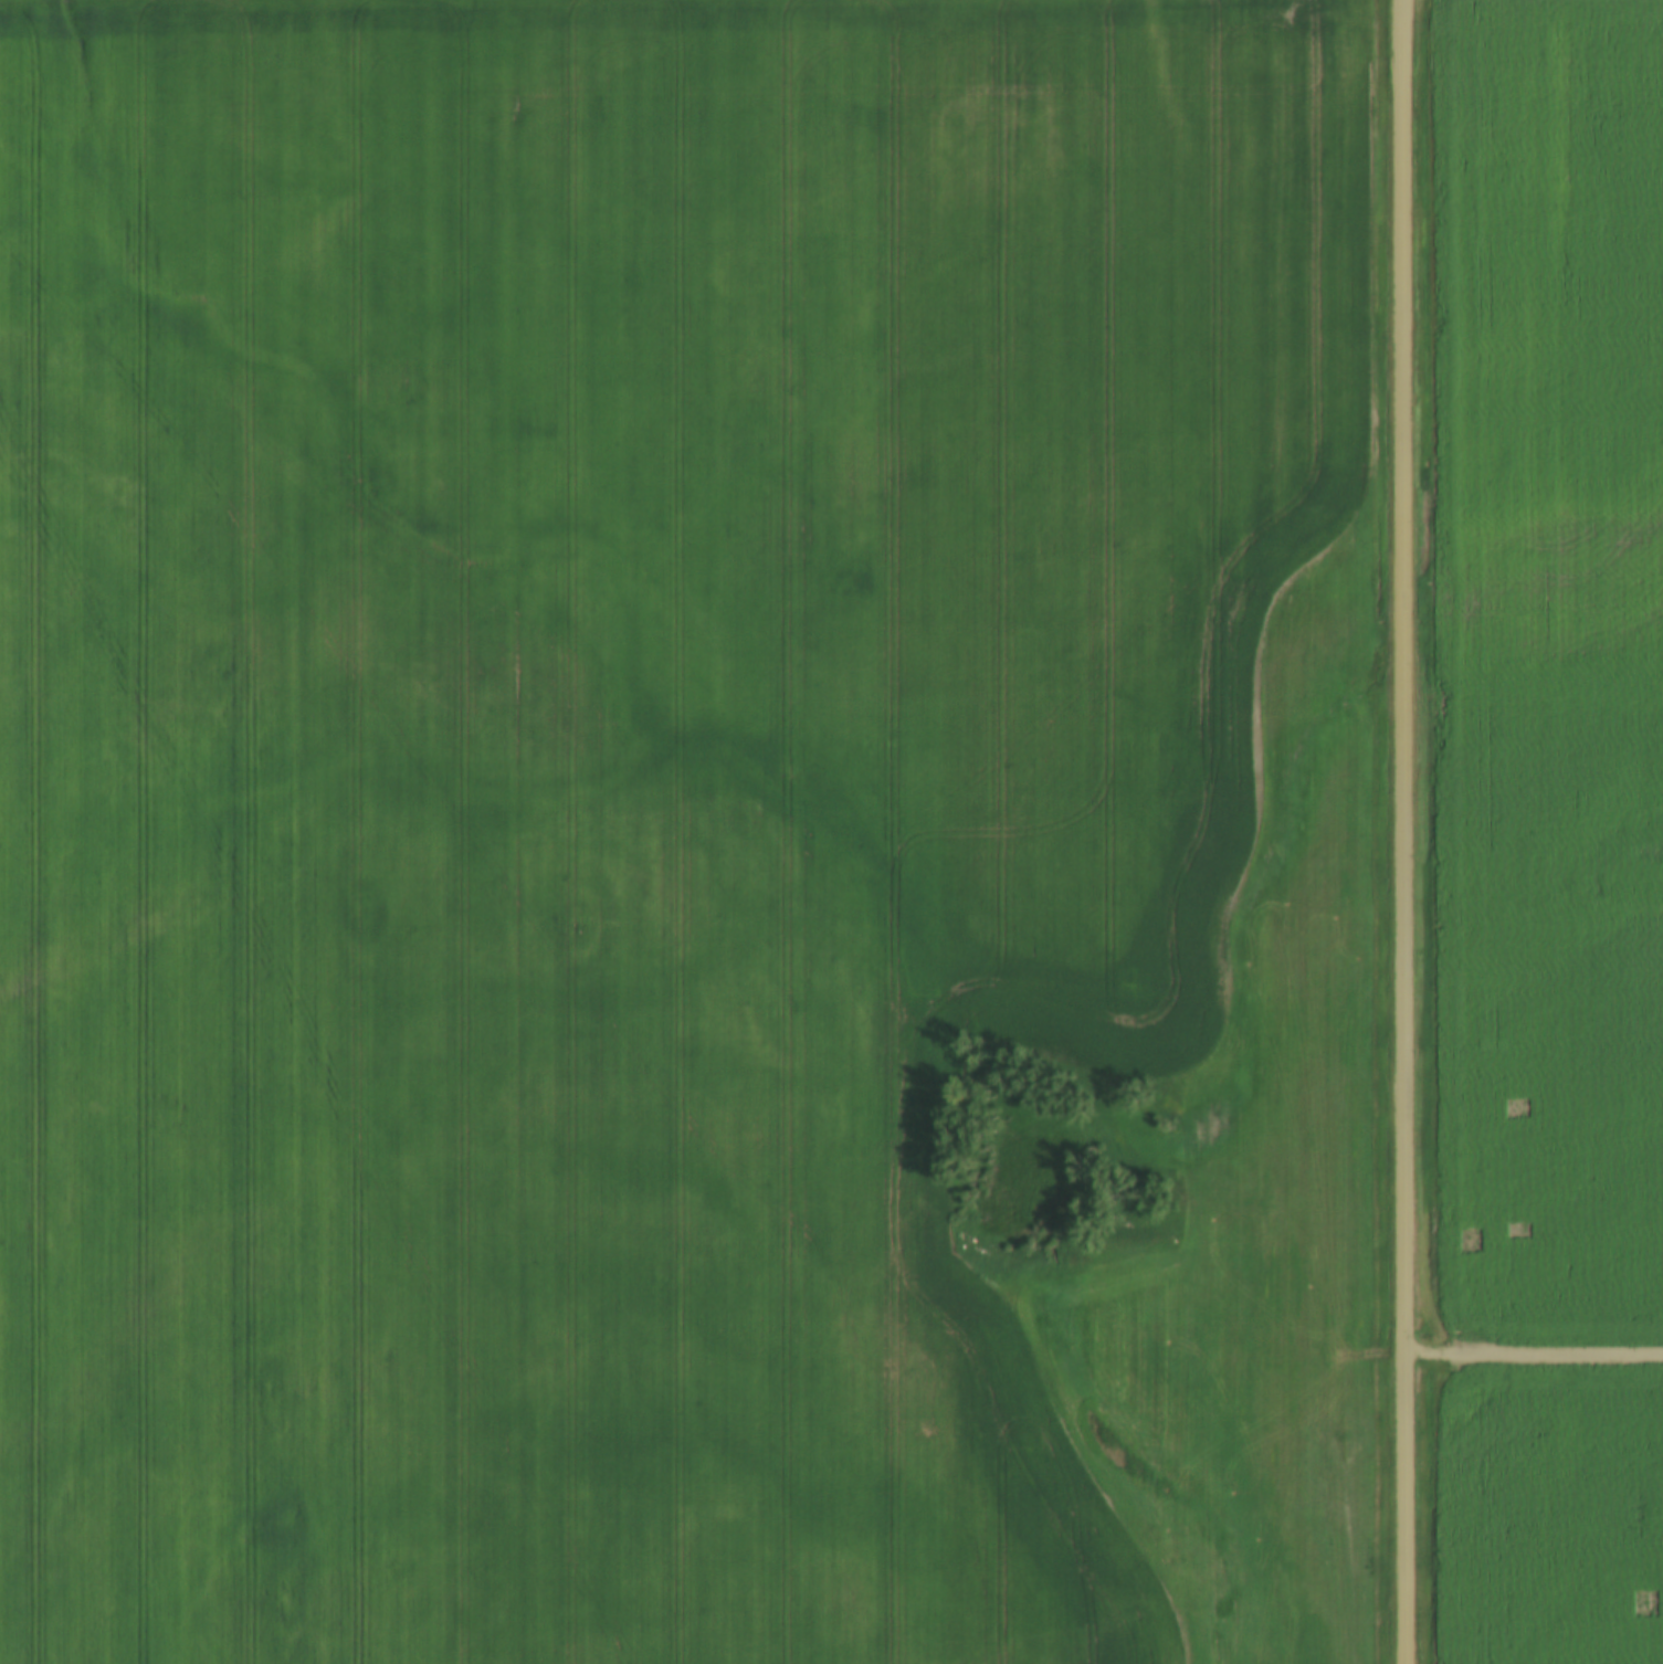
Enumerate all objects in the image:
road: (1400, 832)

